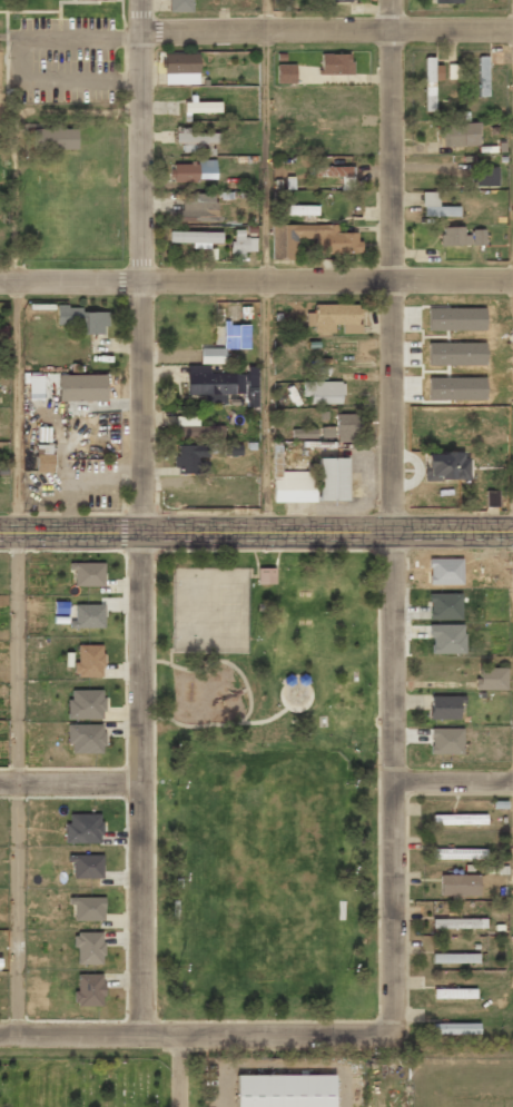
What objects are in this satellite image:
building: (90, 0)
building: (342, 0)
building: (446, 1)
building: (180, 6)
road: (328, 28)
building: (335, 63)
building: (180, 68)
building: (454, 71)
building: (285, 72)
building: (482, 76)
building: (431, 81)
building: (457, 135)
building: (53, 137)
building: (196, 140)
building: (195, 170)
building: (485, 176)
building: (347, 186)
building: (436, 206)
building: (194, 207)
building: (302, 209)
building: (461, 236)
building: (195, 238)
building: (243, 243)
building: (336, 245)
road: (266, 266)
road: (395, 266)
road: (256, 285)
building: (333, 317)
building: (81, 319)
building: (235, 335)
building: (211, 355)
building: (213, 383)
building: (34, 386)
building: (251, 386)
building: (81, 387)
building: (323, 392)
road: (17, 406)
building: (346, 426)
building: (196, 427)
building: (231, 448)
building: (43, 458)
building: (191, 458)
building: (445, 466)
building: (332, 478)
building: (294, 486)
building: (491, 497)
road: (140, 517)
road: (256, 533)
building: (88, 573)
park: (208, 609)
building: (88, 615)
building: (446, 637)
road: (394, 656)
building: (88, 660)
building: (491, 678)
building: (86, 703)
building: (444, 706)
building: (86, 738)
building: (446, 741)
road: (454, 780)
road: (69, 782)
road: (18, 783)
park: (266, 785)
building: (458, 819)
building: (83, 828)
building: (458, 853)
building: (86, 866)
building: (458, 884)
road: (395, 906)
building: (88, 908)
building: (458, 922)
building: (89, 947)
building: (455, 958)
building: (89, 989)
building: (453, 992)
road: (455, 1009)
building: (455, 1028)
road: (325, 1034)
road: (69, 1036)
park: (85, 1079)
building: (284, 1090)

